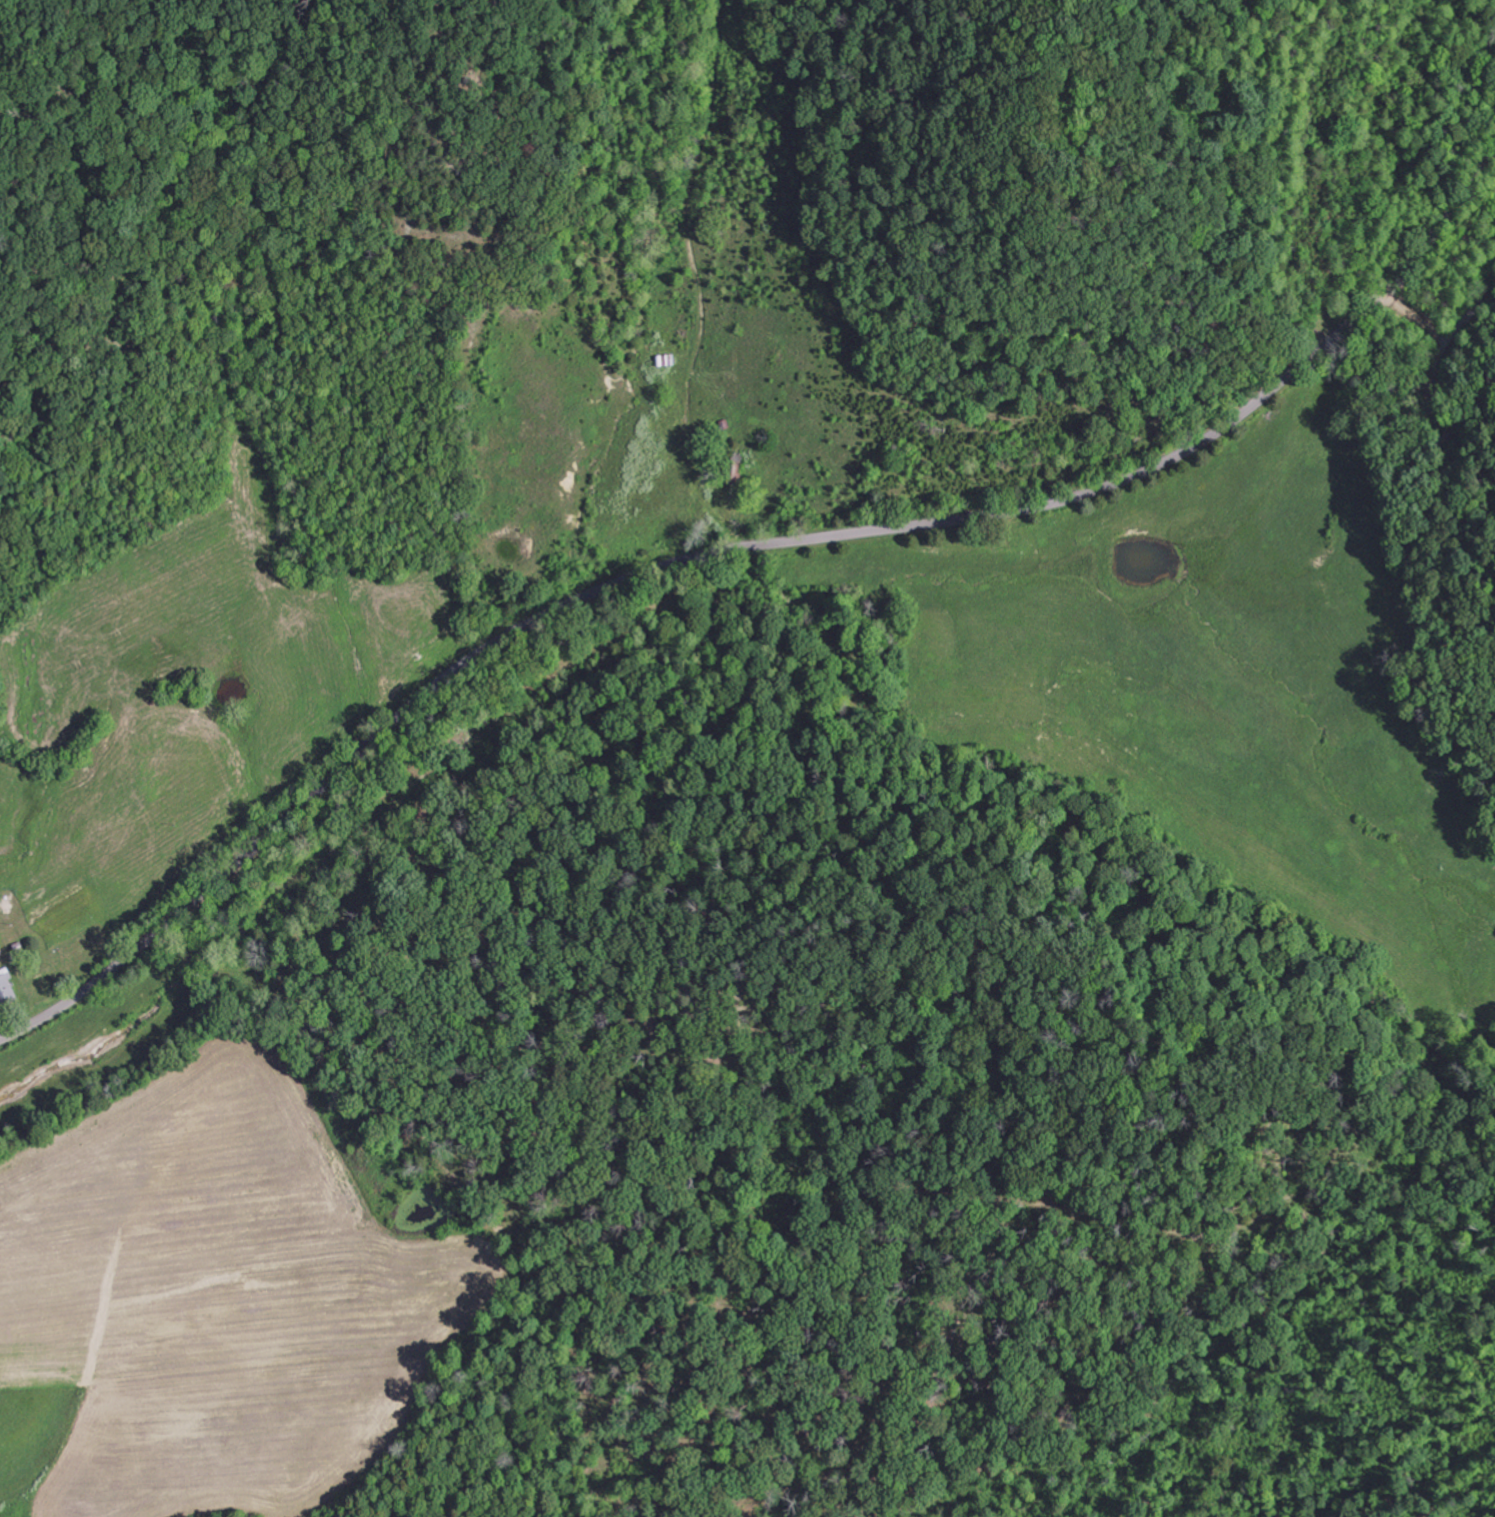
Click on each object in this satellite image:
road: (1415, 256)
road: (609, 589)
building: (5, 984)

